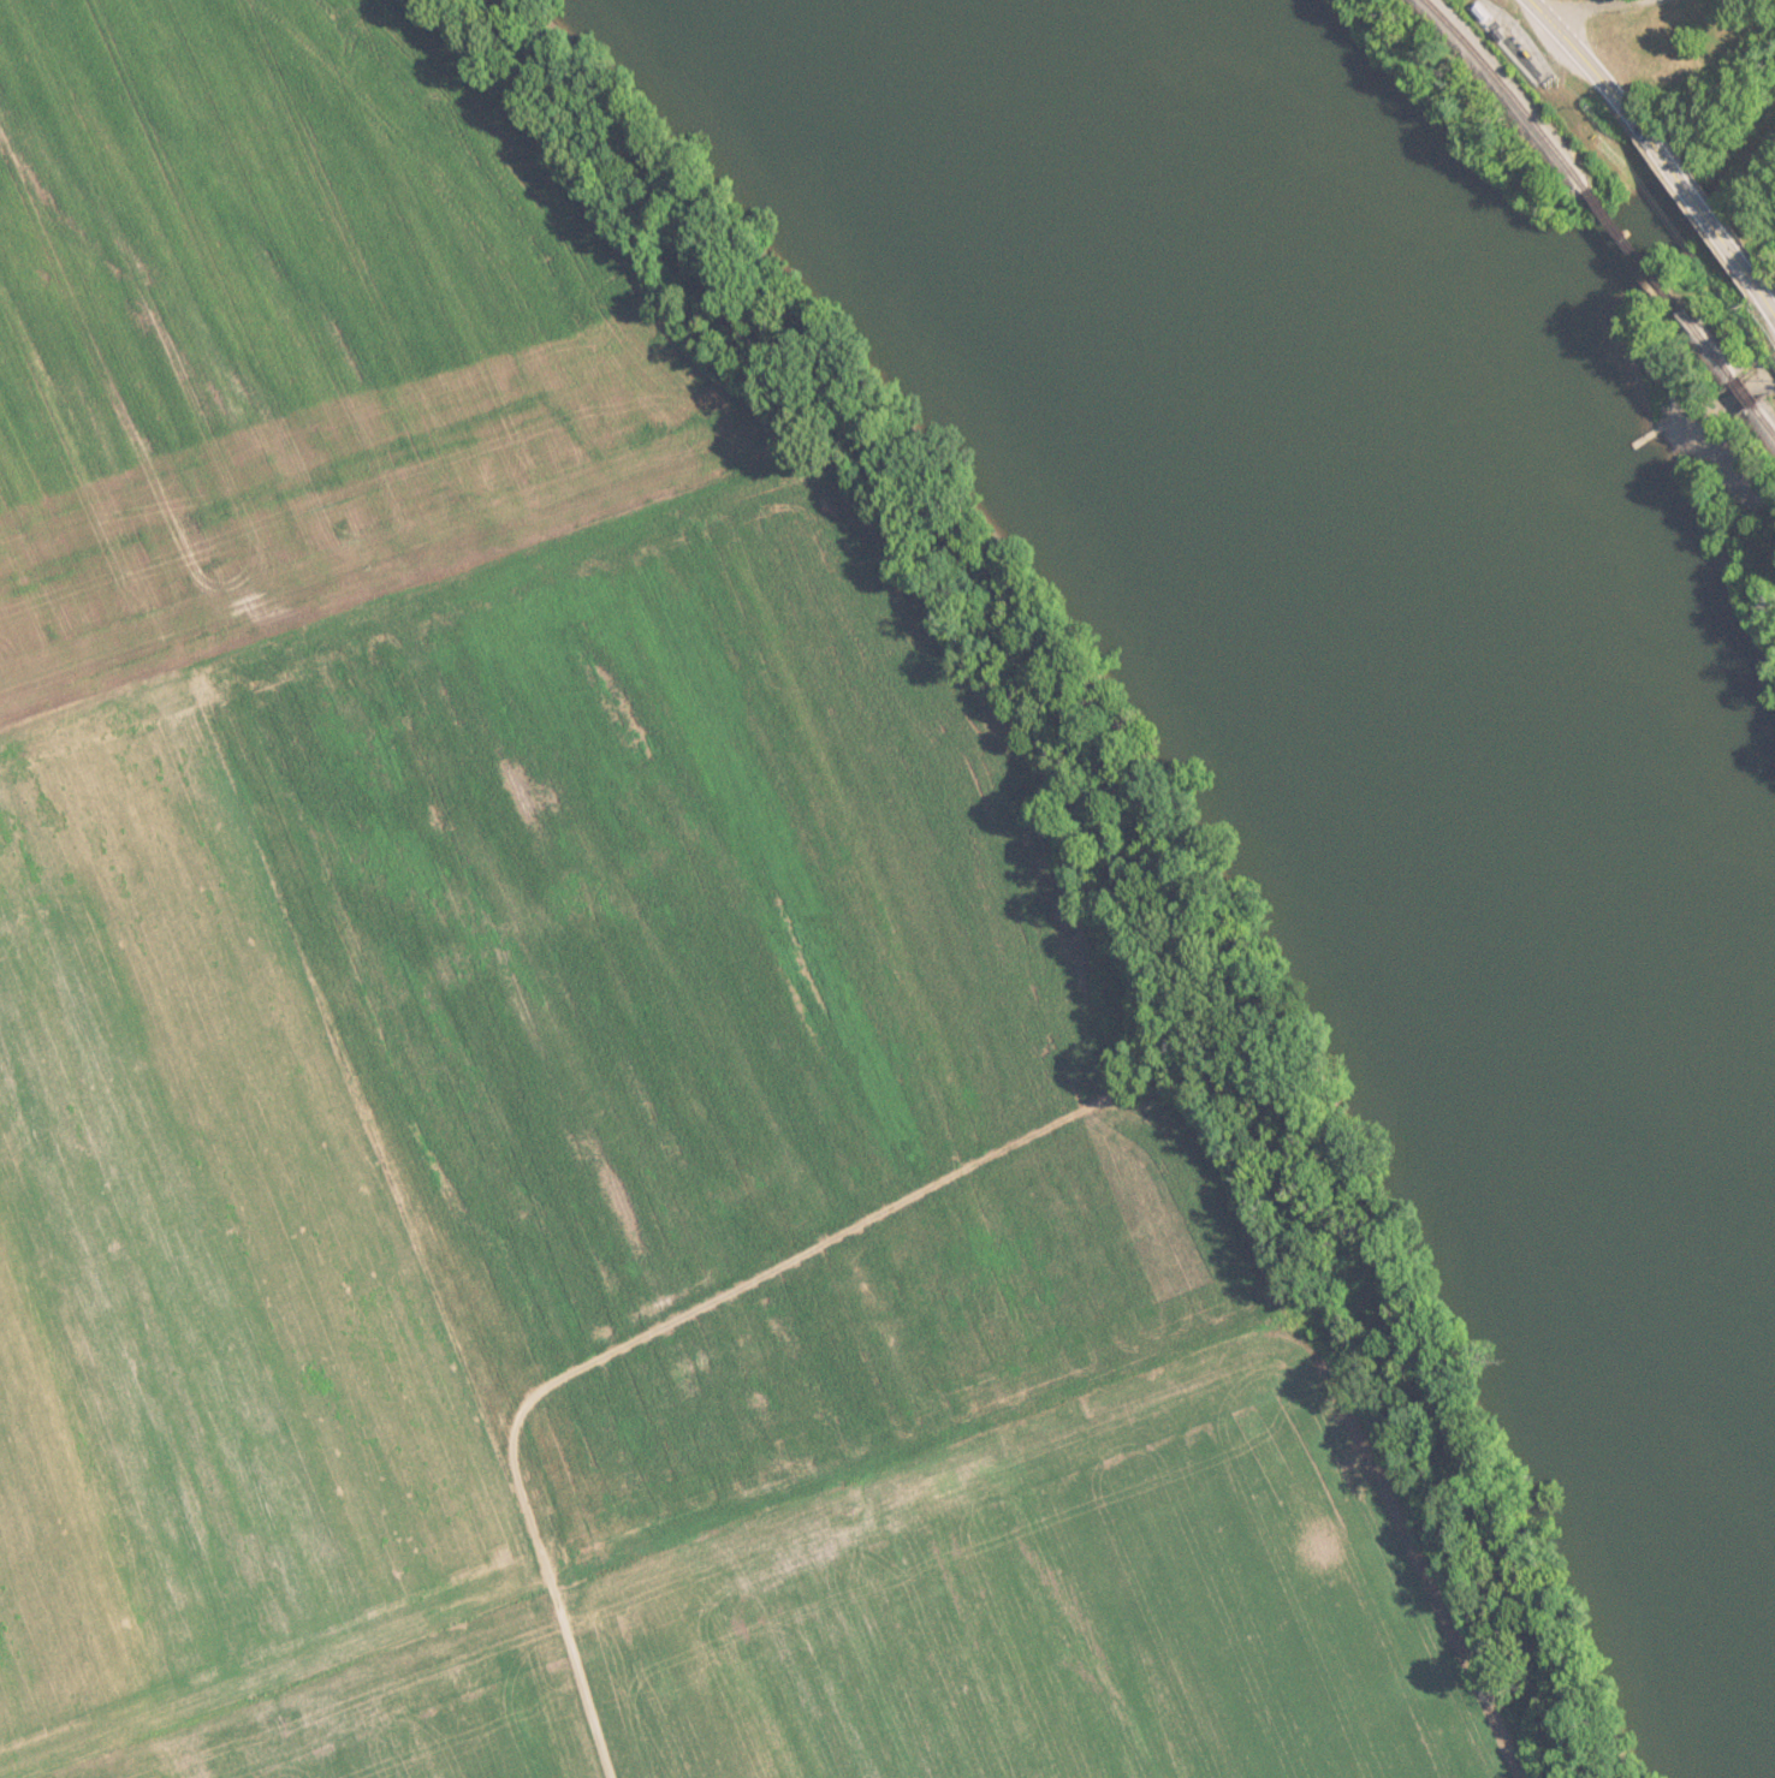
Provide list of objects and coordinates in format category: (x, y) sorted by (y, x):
road: (1585, 8)
road: (1578, 54)
railway: (1507, 93)
road: (1694, 196)
railway: (1634, 243)
road: (1765, 304)
railway: (1703, 332)
railway: (1743, 390)
road: (1721, 399)
railway: (1764, 422)
river: (1391, 713)
road: (677, 1306)

